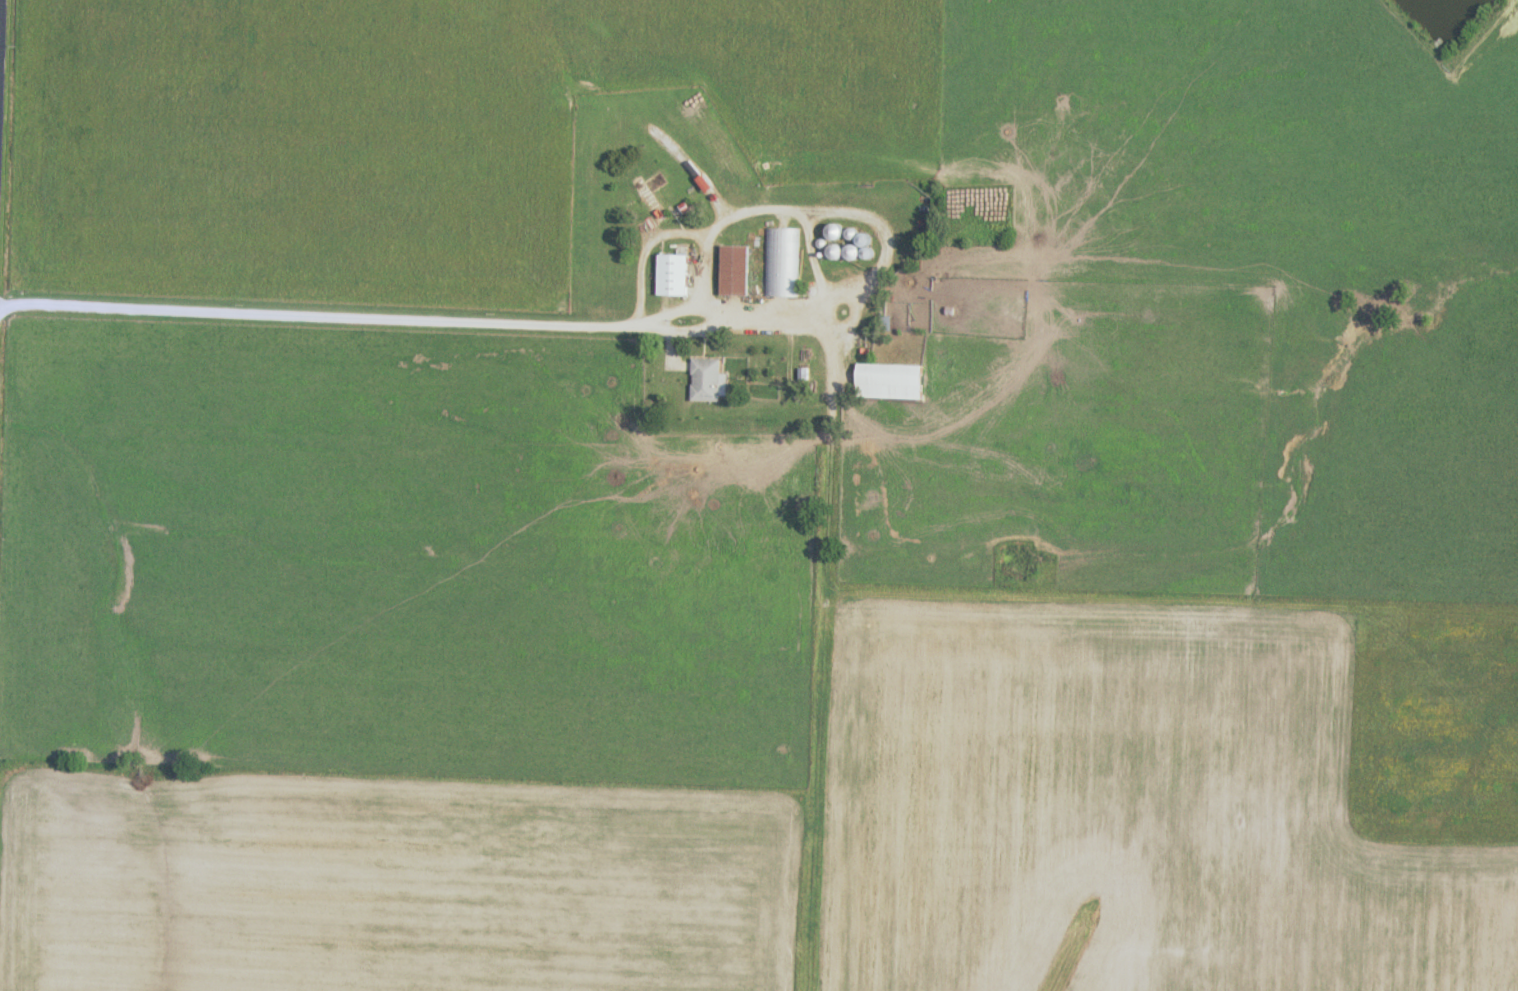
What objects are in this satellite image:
road: (0, 42)
building: (656, 195)
building: (783, 262)
building: (738, 270)
building: (676, 274)
road: (409, 321)
building: (710, 380)
building: (894, 382)

